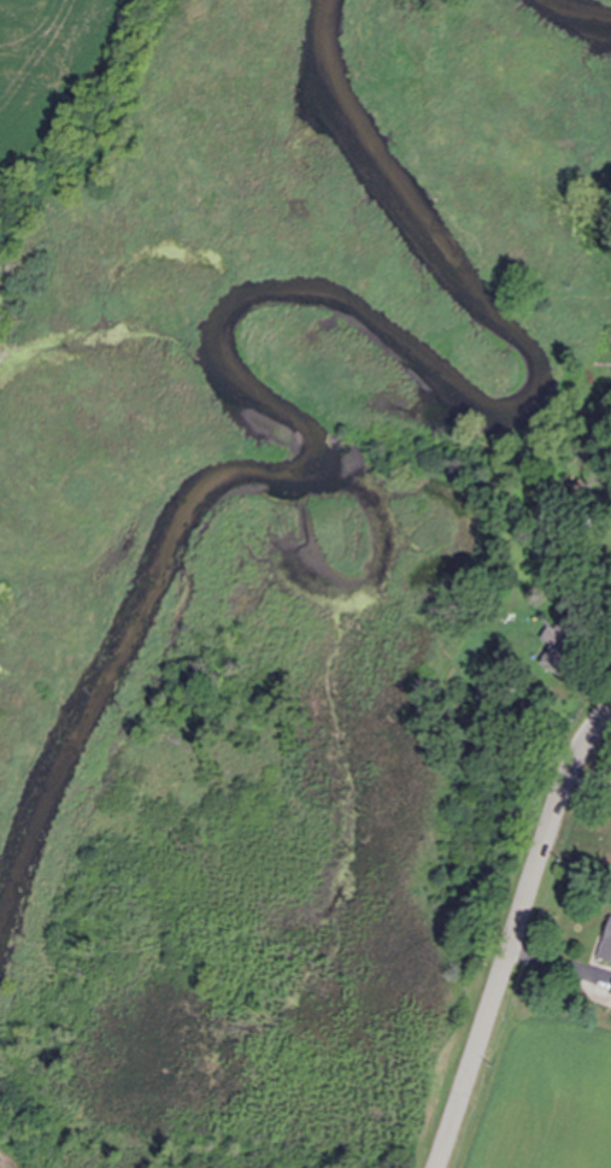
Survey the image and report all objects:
river: (595, 8)
river: (246, 318)
road: (512, 932)
building: (607, 947)

